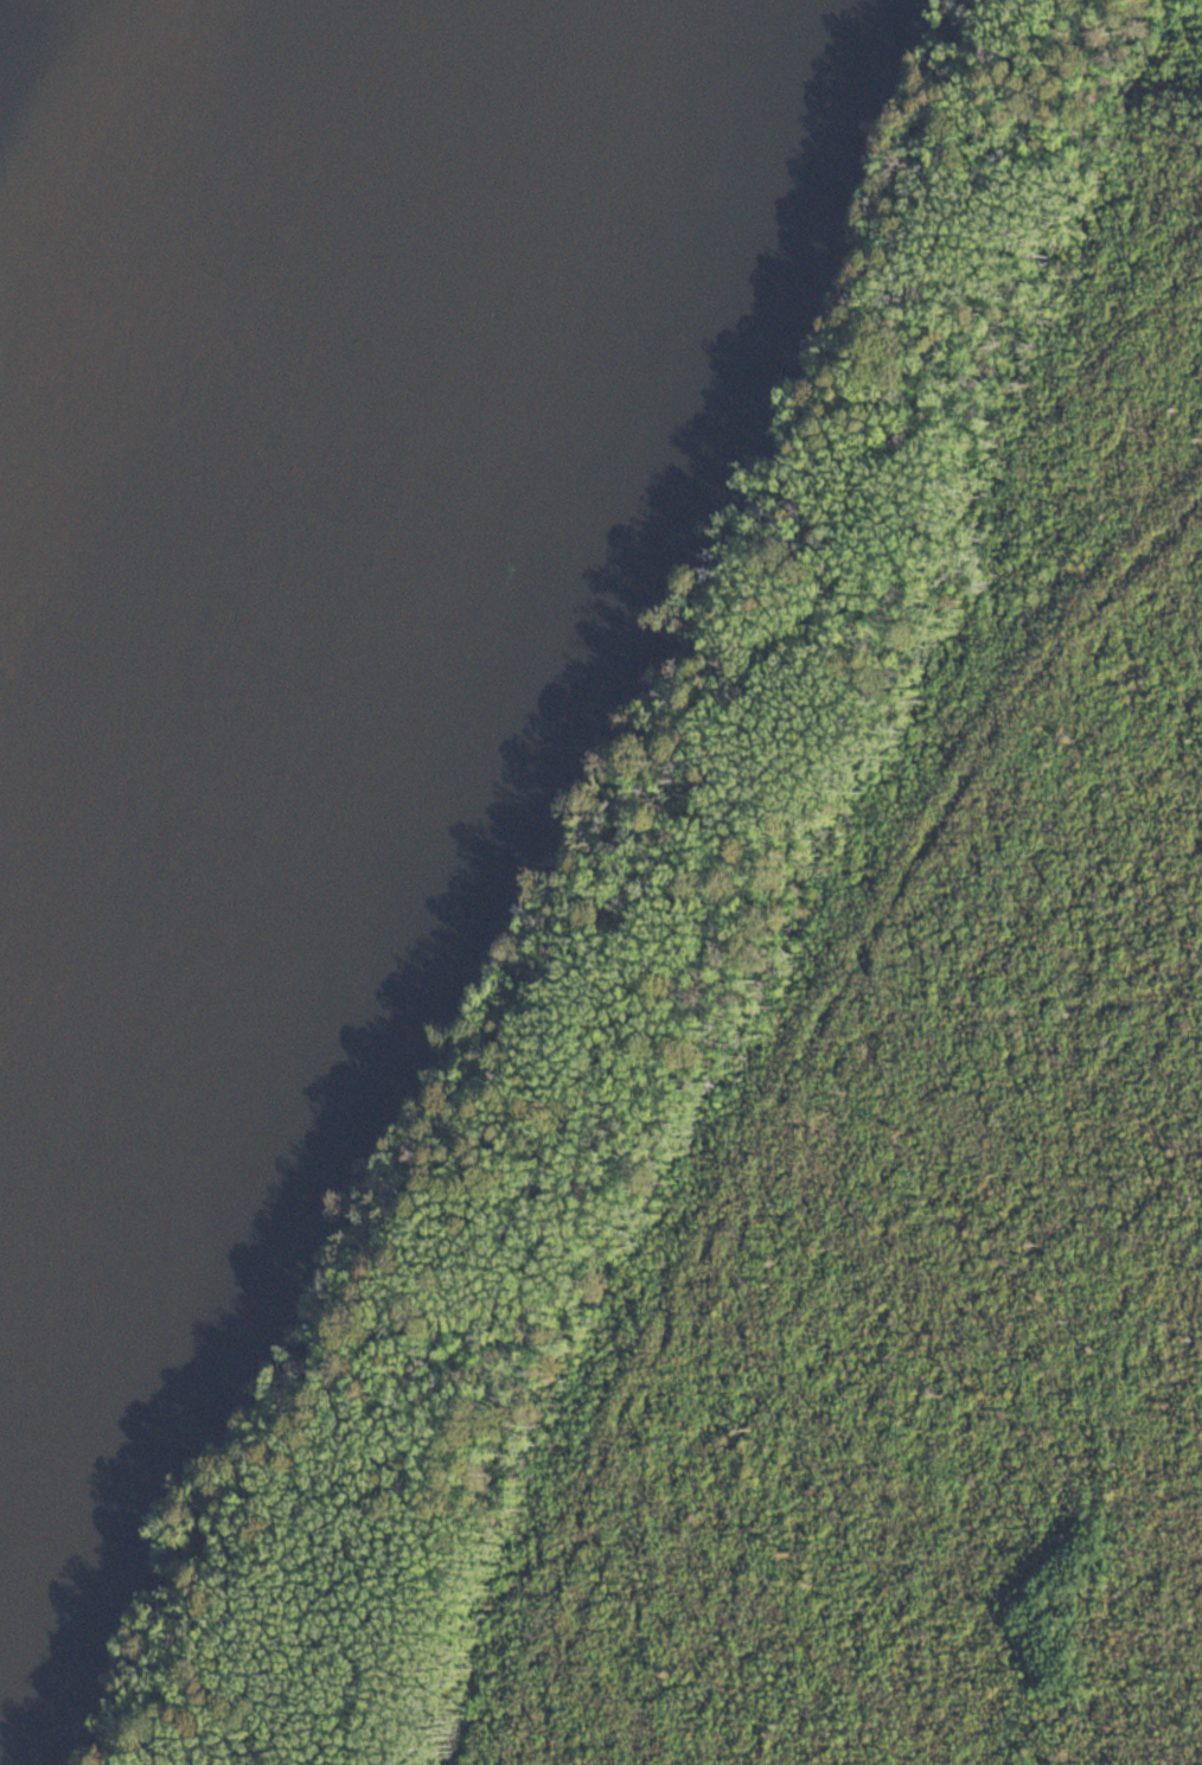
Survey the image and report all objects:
river: (211, 536)

